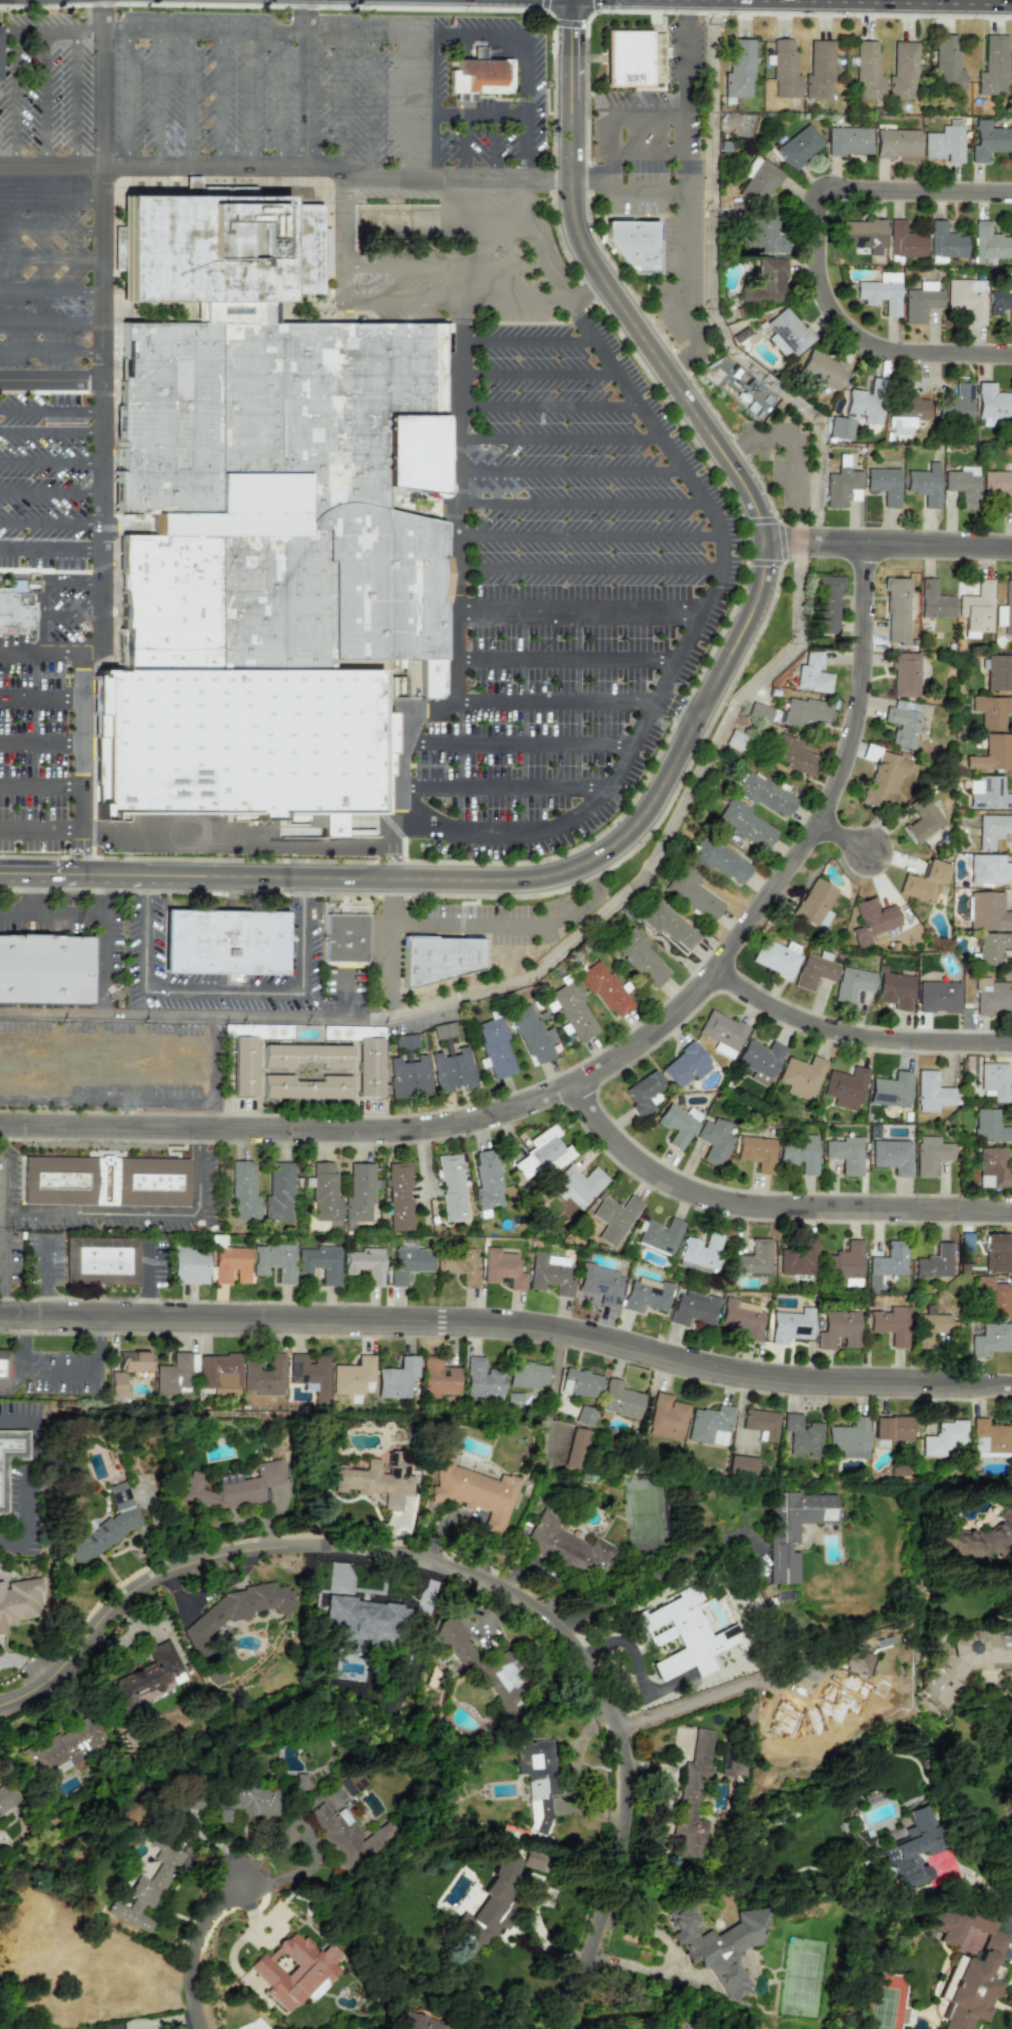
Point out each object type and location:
road: (101, 15)
road: (308, 15)
road: (264, 30)
building: (478, 53)
road: (682, 57)
building: (946, 63)
building: (633, 64)
building: (992, 66)
building: (738, 69)
building: (784, 69)
building: (818, 70)
building: (867, 71)
building: (902, 71)
building: (481, 79)
parking lot: (203, 86)
parking lot: (45, 87)
road: (126, 97)
road: (160, 97)
road: (191, 97)
road: (221, 97)
road: (253, 97)
road: (279, 97)
road: (308, 97)
road: (17, 98)
road: (44, 98)
road: (73, 98)
road: (340, 100)
road: (526, 102)
road: (372, 103)
road: (404, 104)
road: (436, 104)
road: (481, 114)
building: (986, 139)
building: (848, 140)
building: (944, 142)
building: (896, 143)
road: (494, 145)
road: (464, 146)
building: (798, 147)
road: (287, 165)
road: (680, 170)
building: (758, 180)
building: (191, 185)
road: (636, 195)
road: (49, 197)
road: (909, 201)
road: (533, 218)
road: (50, 227)
road: (468, 229)
building: (763, 234)
building: (862, 235)
building: (904, 240)
building: (944, 240)
building: (987, 243)
building: (632, 247)
road: (50, 256)
road: (440, 263)
parking lot: (47, 274)
building: (766, 282)
road: (50, 287)
building: (880, 292)
road: (711, 296)
road: (512, 298)
building: (966, 298)
road: (408, 299)
building: (1000, 299)
building: (920, 301)
road: (50, 319)
building: (786, 332)
road: (526, 339)
road: (101, 340)
road: (849, 349)
road: (50, 350)
road: (536, 369)
building: (822, 369)
road: (50, 378)
building: (740, 386)
building: (865, 402)
building: (959, 402)
road: (549, 403)
building: (992, 404)
road: (50, 409)
building: (905, 411)
building: (839, 428)
road: (50, 434)
road: (559, 438)
road: (787, 442)
road: (458, 457)
road: (50, 461)
road: (570, 471)
parking lot: (45, 483)
building: (923, 483)
building: (841, 484)
building: (884, 484)
building: (963, 485)
building: (998, 486)
road: (50, 493)
road: (581, 500)
road: (50, 524)
building: (266, 529)
road: (587, 532)
road: (889, 543)
road: (50, 553)
road: (588, 568)
parking lot: (568, 597)
building: (933, 600)
road: (581, 601)
building: (827, 604)
building: (14, 607)
building: (975, 608)
building: (1005, 609)
building: (895, 610)
road: (695, 622)
road: (574, 631)
road: (42, 653)
road: (568, 664)
building: (998, 672)
building: (811, 673)
building: (904, 674)
road: (456, 680)
road: (42, 690)
road: (559, 698)
building: (991, 710)
building: (758, 711)
building: (804, 711)
road: (699, 713)
building: (902, 723)
road: (41, 730)
road: (520, 738)
building: (735, 740)
building: (992, 753)
building: (791, 754)
road: (41, 764)
road: (510, 771)
road: (82, 775)
building: (884, 780)
building: (987, 793)
building: (765, 794)
road: (41, 796)
road: (499, 803)
building: (922, 818)
building: (744, 823)
building: (992, 829)
road: (847, 836)
road: (256, 837)
road: (81, 855)
building: (718, 859)
building: (989, 868)
building: (924, 882)
building: (692, 893)
road: (31, 894)
building: (813, 901)
building: (988, 911)
road: (53, 912)
building: (871, 920)
road: (514, 924)
building: (668, 925)
building: (346, 940)
building: (222, 941)
building: (991, 946)
road: (106, 948)
road: (393, 950)
building: (639, 957)
building: (776, 957)
building: (442, 961)
building: (814, 970)
building: (45, 975)
road: (529, 977)
building: (851, 983)
building: (603, 987)
road: (222, 989)
building: (894, 990)
building: (992, 995)
building: (937, 996)
road: (143, 1004)
building: (573, 1010)
building: (443, 1030)
building: (721, 1032)
building: (530, 1034)
road: (855, 1037)
building: (405, 1041)
building: (494, 1048)
building: (305, 1058)
building: (759, 1059)
building: (683, 1065)
building: (242, 1067)
building: (369, 1069)
road: (604, 1069)
building: (451, 1070)
building: (801, 1076)
building: (408, 1077)
building: (994, 1081)
building: (844, 1087)
building: (303, 1088)
building: (890, 1090)
building: (643, 1092)
building: (932, 1092)
building: (677, 1124)
building: (989, 1127)
building: (713, 1142)
building: (756, 1152)
building: (798, 1153)
building: (845, 1153)
building: (541, 1154)
building: (929, 1155)
building: (891, 1156)
building: (992, 1168)
road: (6, 1173)
building: (106, 1180)
building: (489, 1181)
building: (576, 1185)
building: (451, 1188)
building: (242, 1191)
building: (277, 1192)
building: (324, 1192)
building: (358, 1193)
building: (399, 1196)
road: (770, 1210)
road: (144, 1214)
building: (613, 1218)
building: (656, 1236)
building: (699, 1251)
building: (996, 1252)
building: (753, 1258)
building: (798, 1260)
building: (273, 1261)
building: (319, 1262)
building: (408, 1262)
building: (934, 1262)
building: (844, 1263)
building: (886, 1263)
building: (365, 1264)
building: (188, 1265)
building: (229, 1265)
building: (460, 1265)
road: (5, 1266)
building: (501, 1268)
building: (549, 1274)
road: (41, 1278)
building: (598, 1286)
building: (993, 1295)
building: (644, 1296)
building: (691, 1308)
building: (742, 1318)
building: (889, 1324)
building: (789, 1325)
road: (509, 1327)
building: (837, 1329)
building: (929, 1329)
building: (990, 1339)
road: (20, 1345)
road: (97, 1346)
building: (131, 1360)
building: (3, 1369)
road: (60, 1372)
building: (219, 1373)
building: (309, 1374)
building: (172, 1375)
building: (525, 1375)
building: (264, 1376)
building: (352, 1376)
building: (395, 1378)
building: (437, 1378)
building: (480, 1379)
building: (579, 1383)
building: (117, 1384)
building: (619, 1399)
building: (583, 1416)
building: (665, 1418)
building: (759, 1423)
building: (709, 1425)
building: (890, 1428)
building: (801, 1435)
building: (847, 1438)
building: (943, 1438)
building: (989, 1439)
building: (564, 1448)
building: (11, 1461)
building: (741, 1465)
road: (30, 1476)
building: (376, 1484)
building: (474, 1492)
building: (221, 1495)
building: (795, 1525)
building: (105, 1526)
building: (981, 1540)
building: (566, 1547)
road: (468, 1577)
building: (18, 1602)
building: (238, 1608)
building: (680, 1635)
road: (630, 1647)
building: (860, 1663)
building: (959, 1664)
building: (150, 1673)
road: (688, 1706)
building: (726, 1765)
building: (537, 1780)
building: (692, 1795)
building: (7, 1796)
building: (245, 1801)
building: (347, 1836)
road: (276, 1841)
building: (911, 1849)
building: (533, 1861)
building: (147, 1891)
building: (491, 1905)
building: (717, 1946)
road: (189, 1947)
building: (967, 1965)
building: (294, 1970)
building: (415, 2021)

